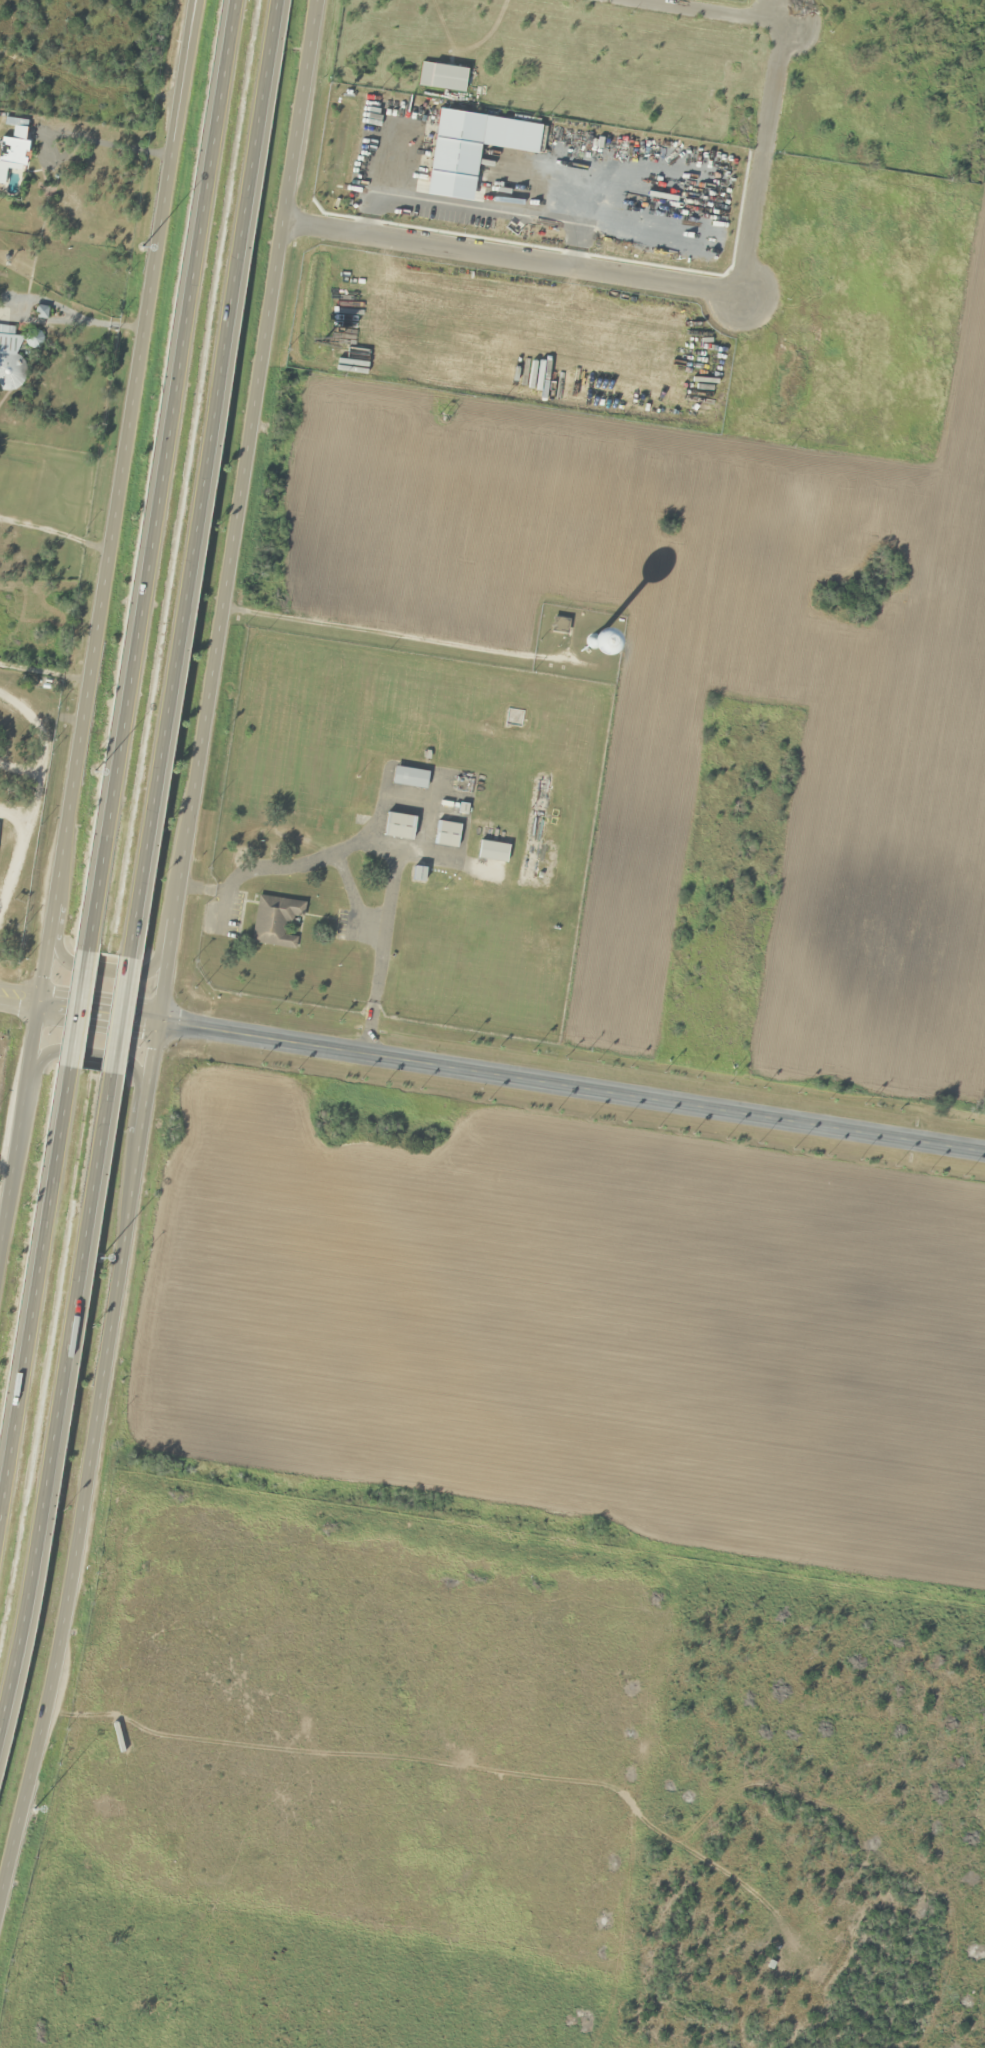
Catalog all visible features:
road: (707, 11)
building: (442, 77)
road: (184, 90)
road: (186, 90)
building: (13, 151)
road: (758, 159)
road: (508, 258)
building: (40, 312)
building: (6, 332)
building: (32, 339)
building: (9, 372)
road: (163, 477)
road: (205, 480)
road: (237, 510)
building: (559, 626)
building: (614, 650)
road: (83, 724)
building: (410, 778)
building: (1, 827)
building: (399, 827)
building: (447, 835)
building: (493, 852)
building: (277, 917)
road: (108, 971)
helipad: (194, 983)
road: (20, 998)
road: (80, 1010)
road: (101, 1011)
road: (120, 1017)
road: (92, 1053)
road: (572, 1088)
road: (36, 1299)
road: (62, 1407)
road: (90, 1467)
road: (3, 1887)

